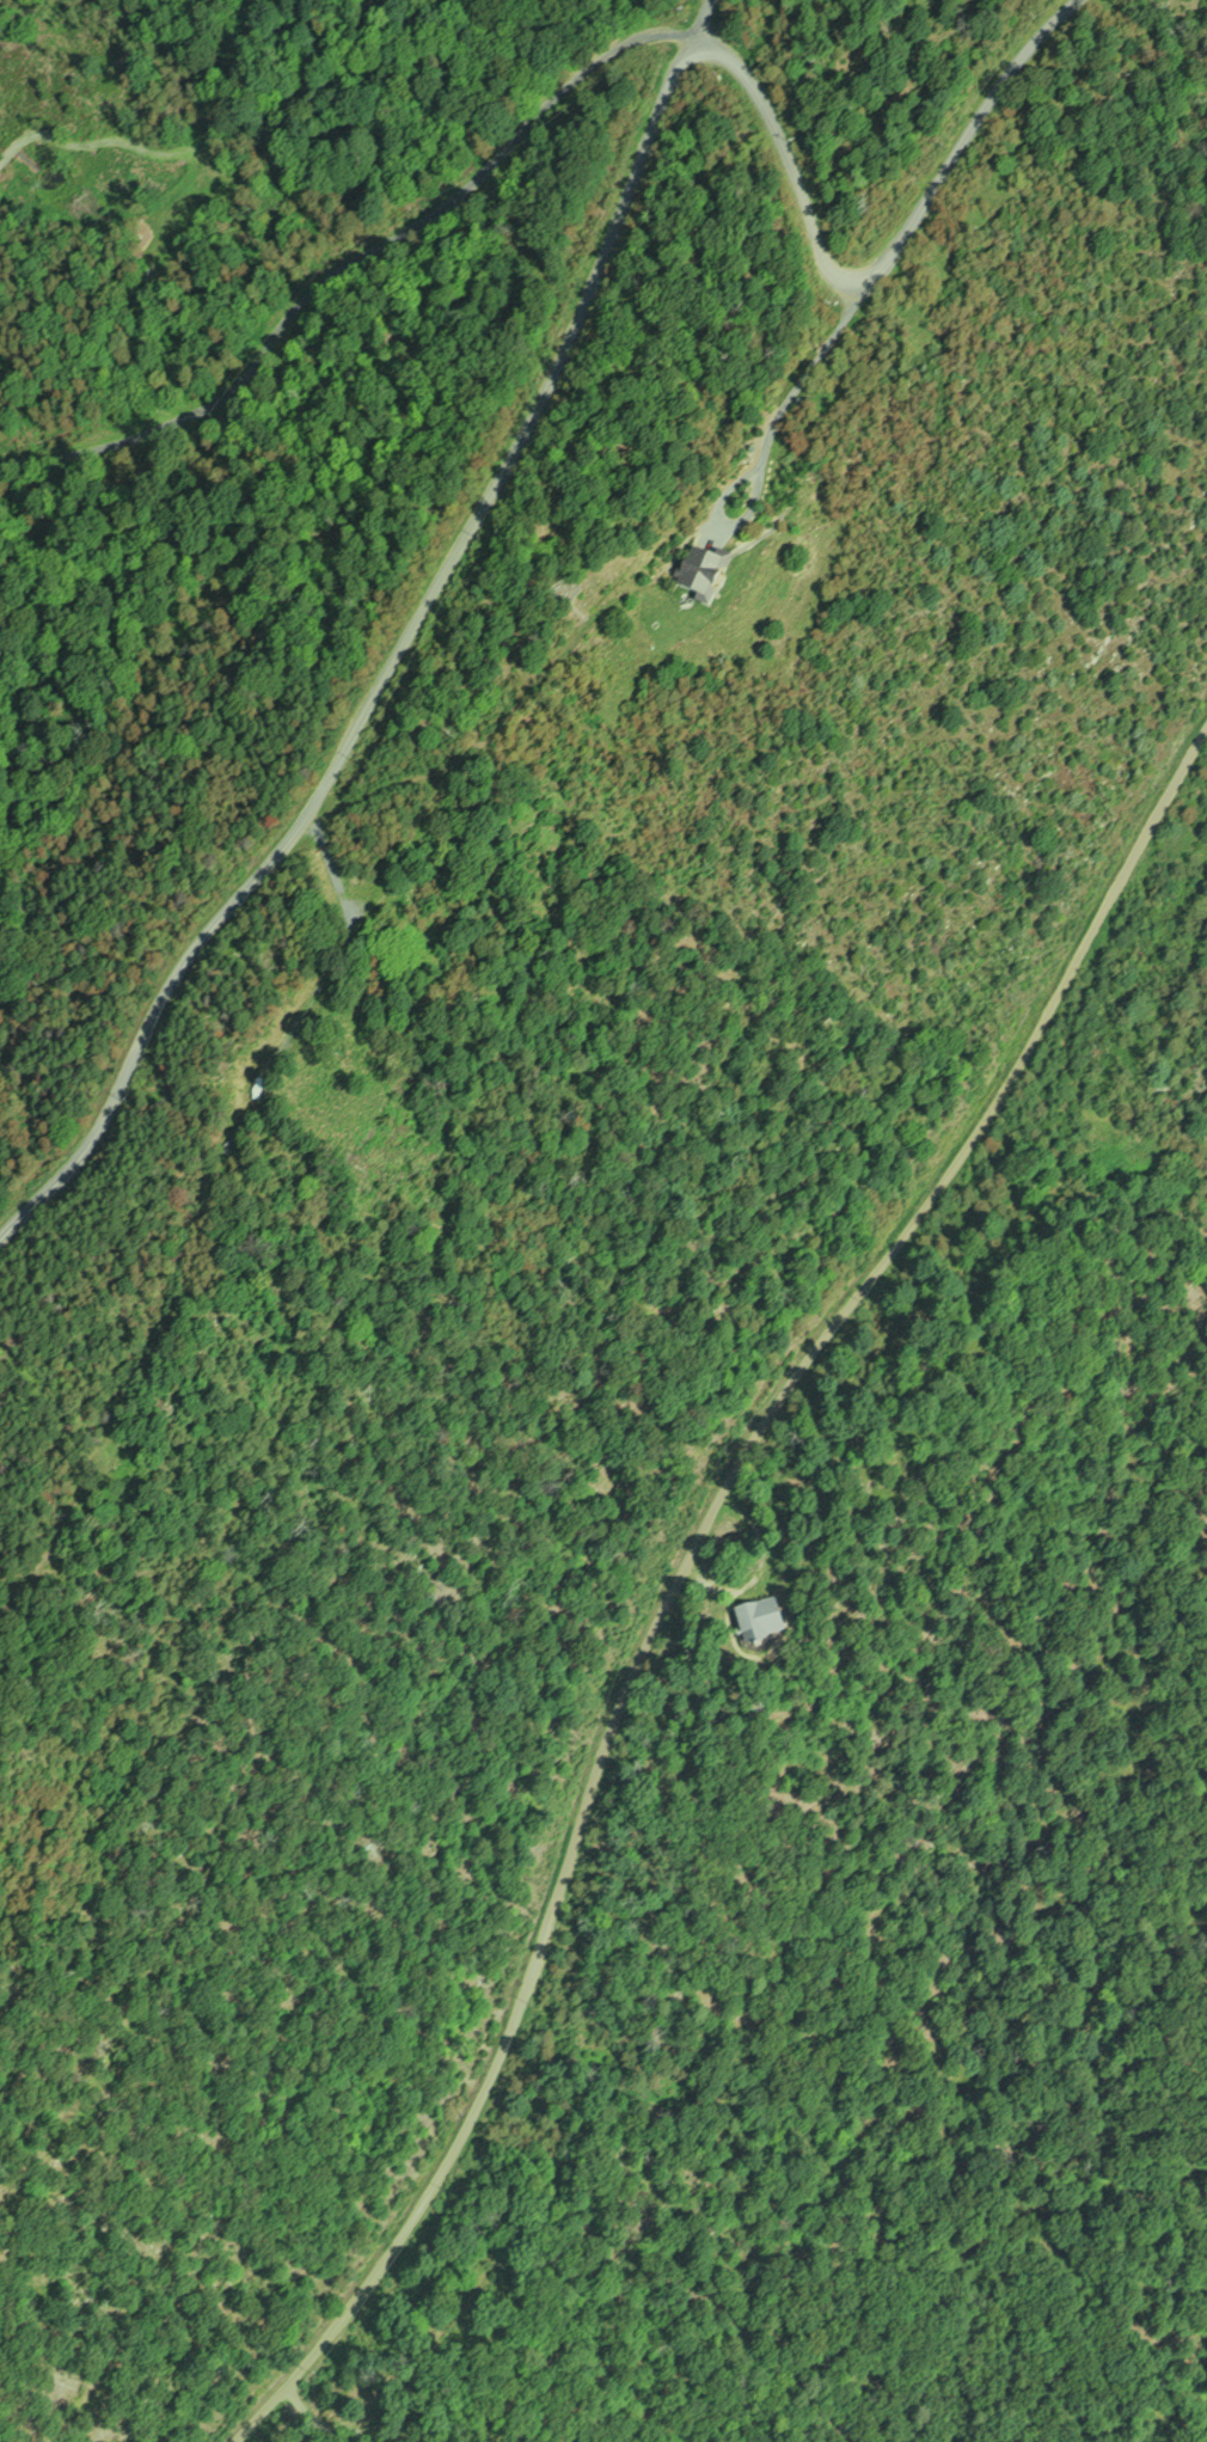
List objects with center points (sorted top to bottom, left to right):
road: (692, 18)
road: (981, 151)
road: (478, 165)
building: (704, 574)
road: (359, 642)
road: (1193, 905)
building: (761, 1618)
road: (645, 1641)

